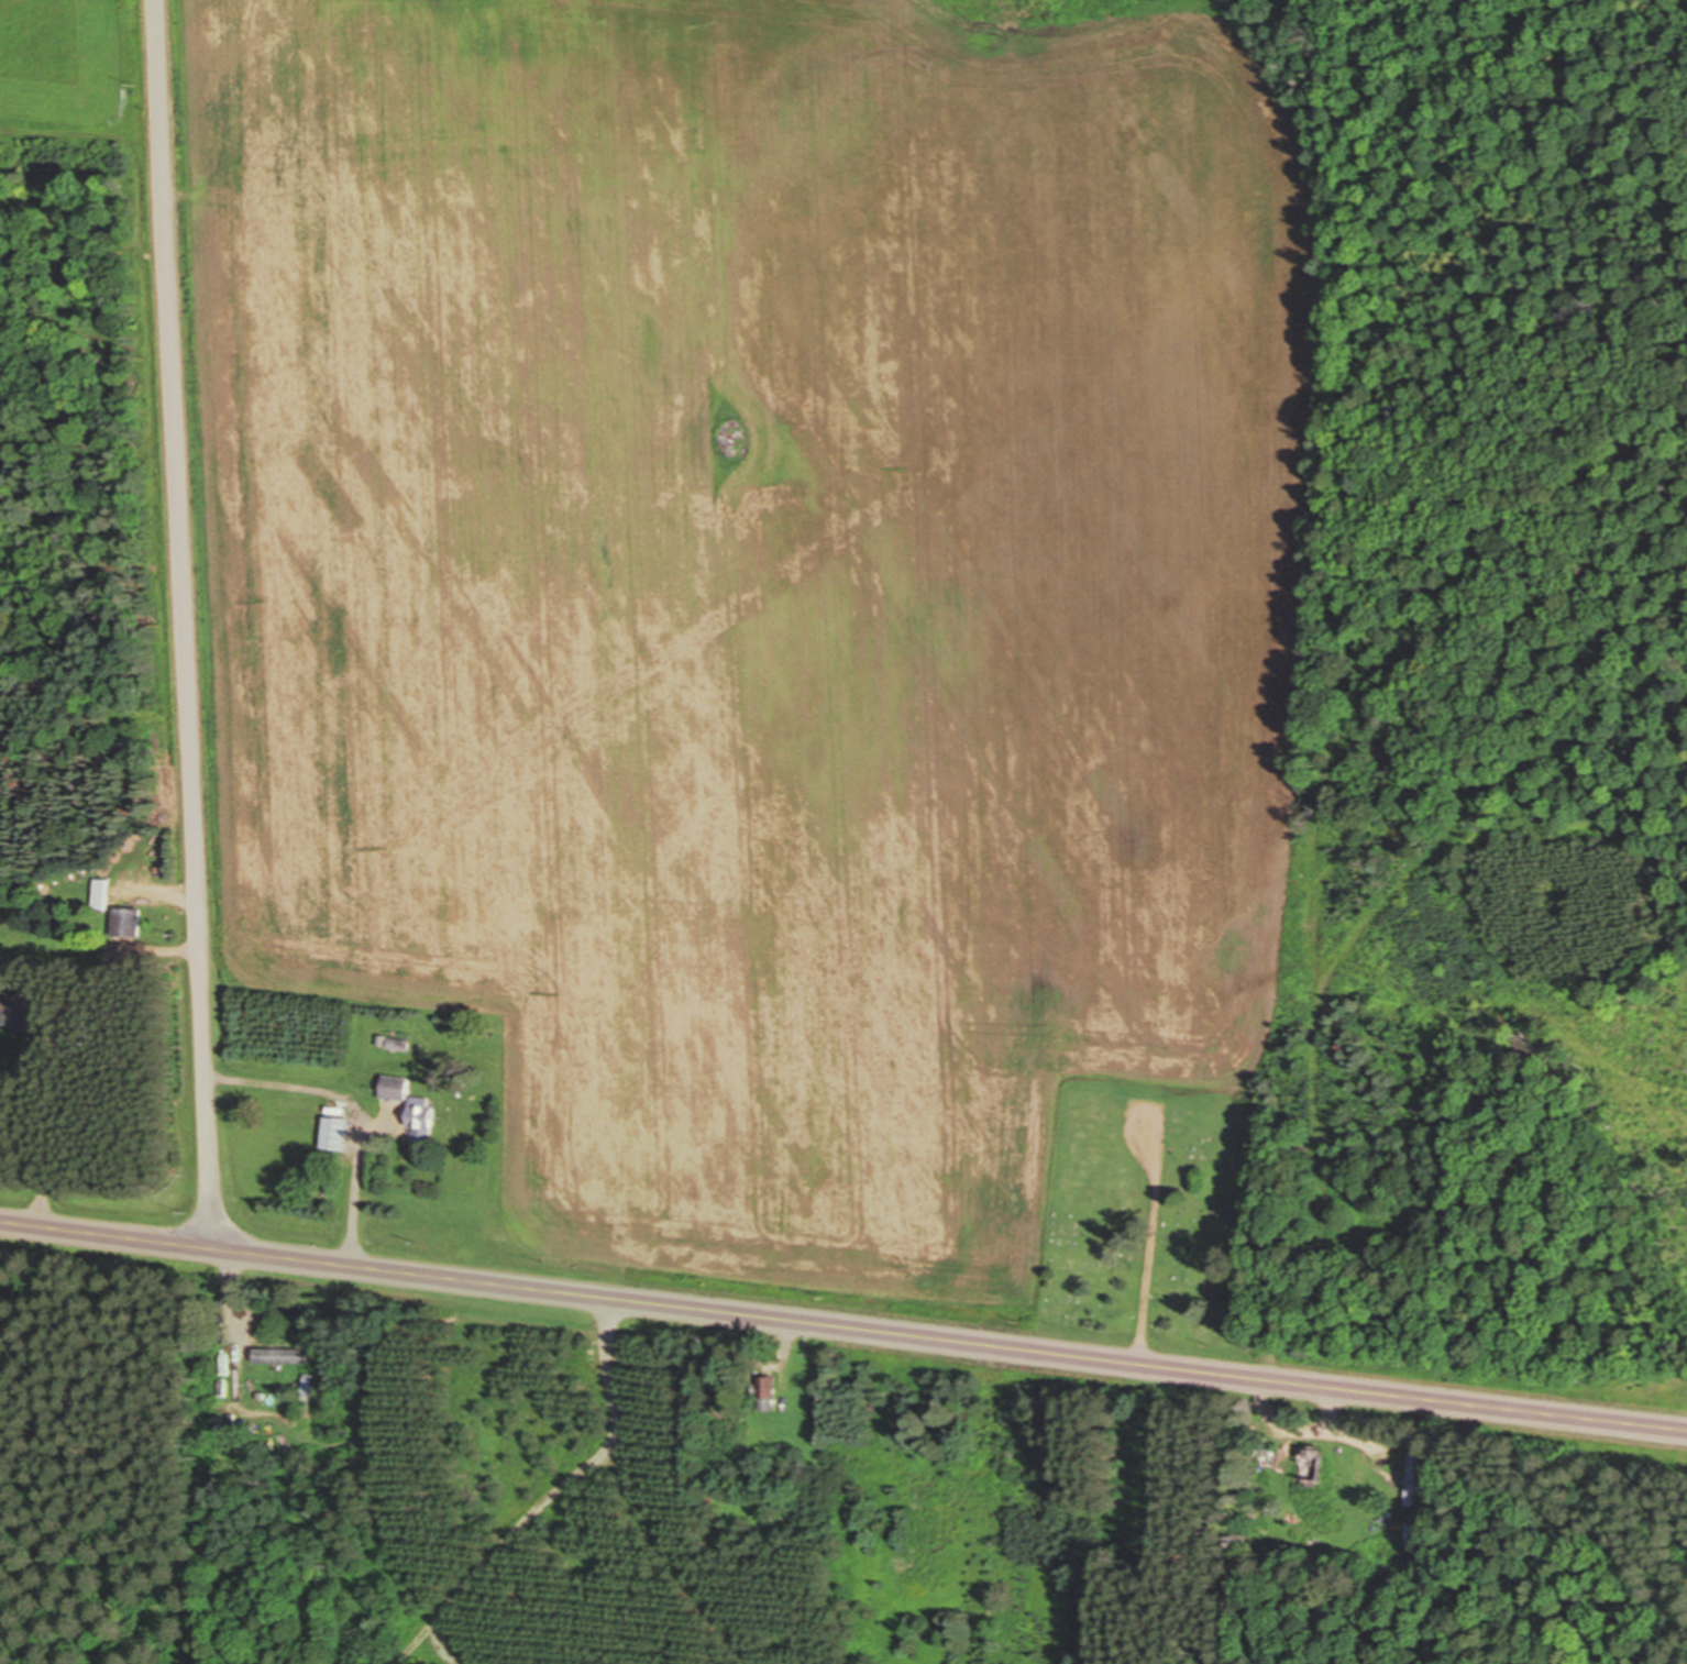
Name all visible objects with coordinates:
road: (184, 624)
building: (104, 895)
road: (172, 899)
building: (130, 923)
building: (24, 1016)
road: (56, 1044)
building: (399, 1088)
road: (355, 1111)
building: (426, 1121)
building: (339, 1134)
road: (1161, 1142)
road: (1135, 1150)
park: (1161, 1221)
road: (1148, 1272)
road: (233, 1290)
road: (842, 1325)
building: (285, 1356)
road: (610, 1367)
building: (771, 1395)
road: (1304, 1428)
building: (1319, 1467)
building: (1361, 1478)
building: (1415, 1480)
building: (1411, 1538)
road: (498, 1546)
road: (671, 1557)

